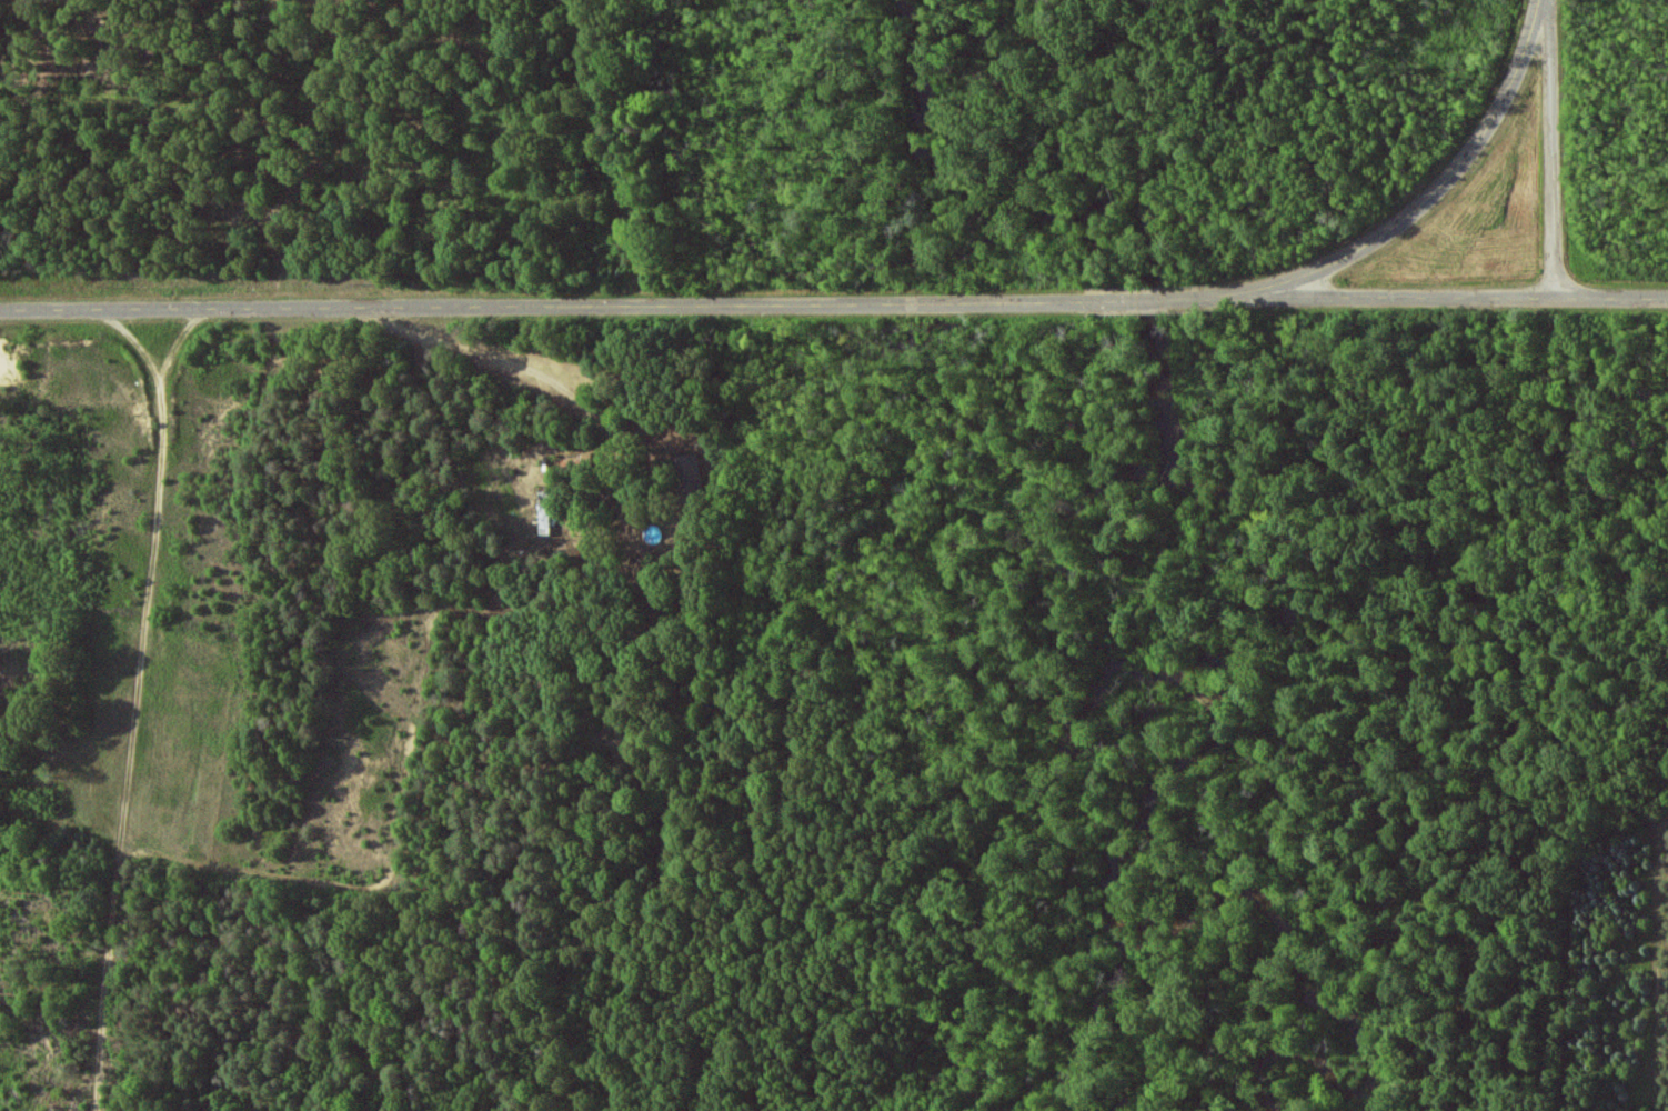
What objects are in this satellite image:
road: (1551, 150)
road: (1423, 202)
road: (1438, 299)
road: (604, 306)
road: (556, 386)
building: (687, 471)
road: (137, 701)

